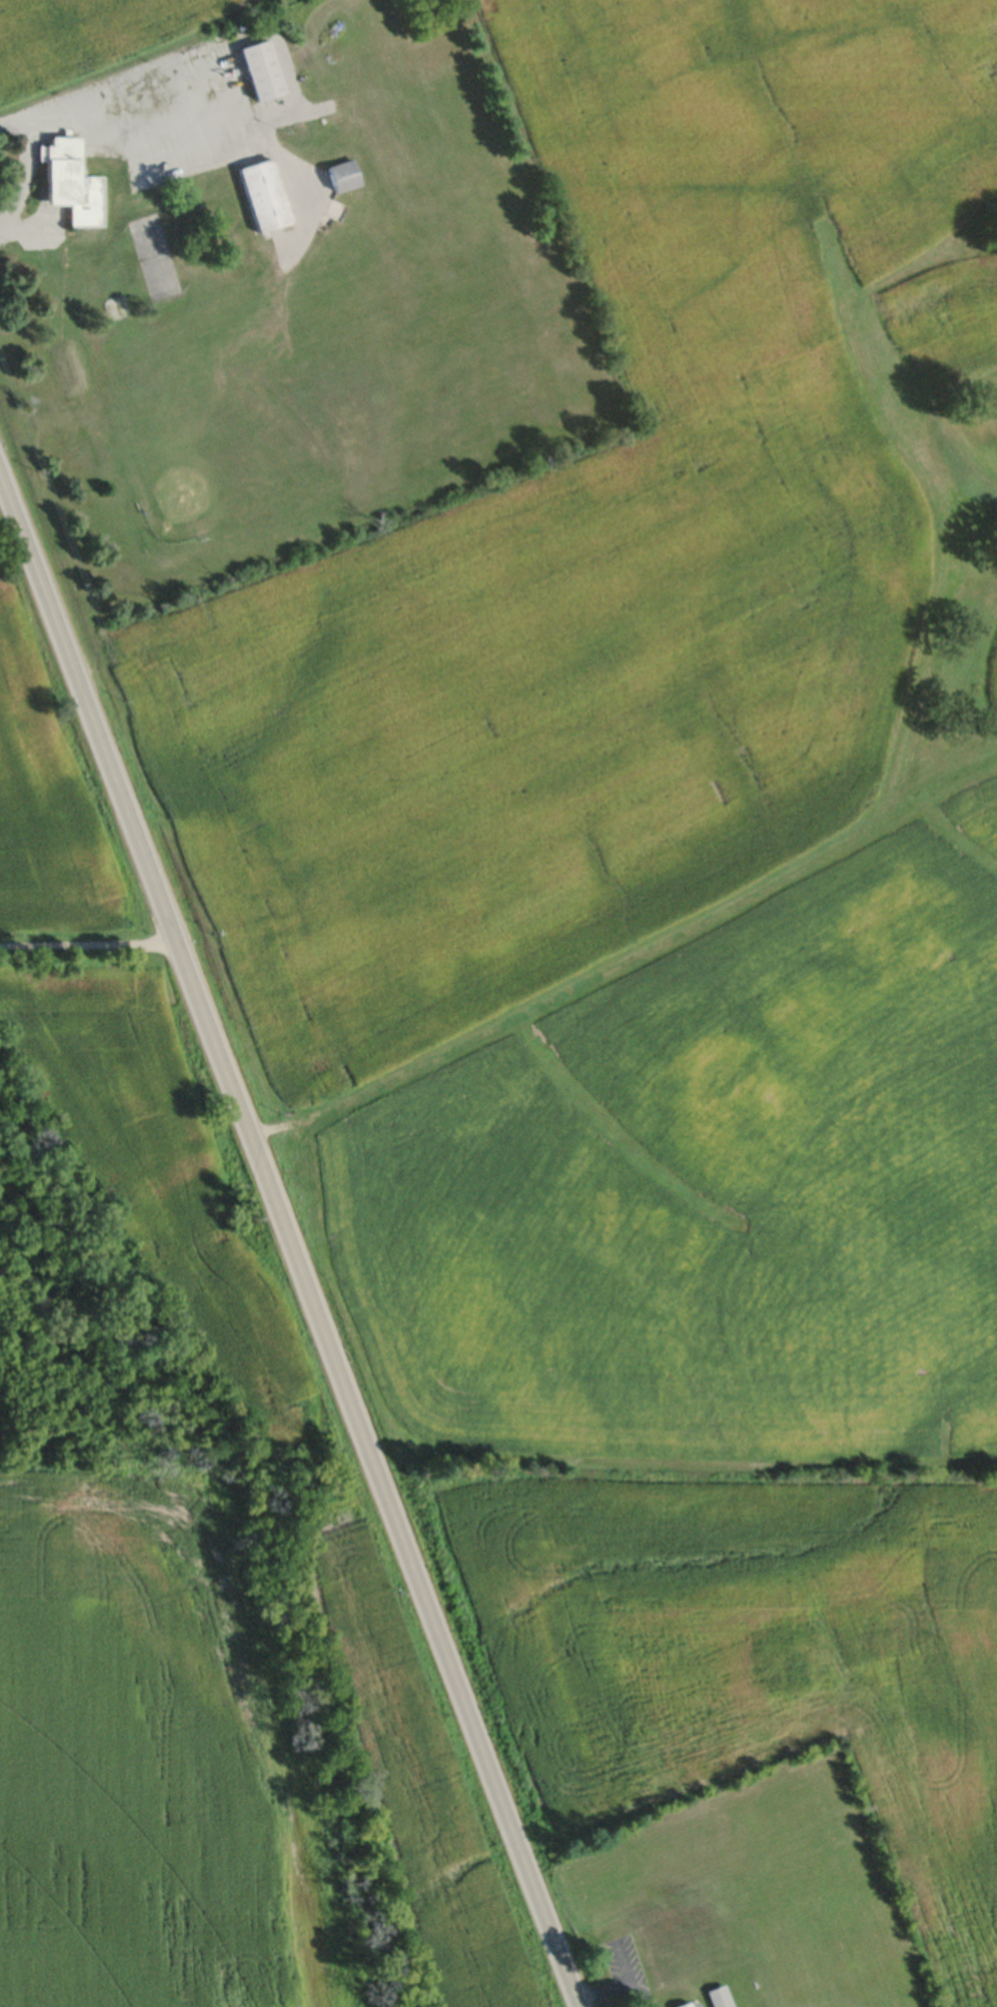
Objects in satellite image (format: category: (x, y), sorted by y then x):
building: (262, 69)
road: (149, 111)
road: (20, 168)
building: (343, 174)
building: (70, 180)
building: (264, 194)
road: (87, 942)
road: (288, 1244)
building: (718, 1996)
building: (685, 2005)

